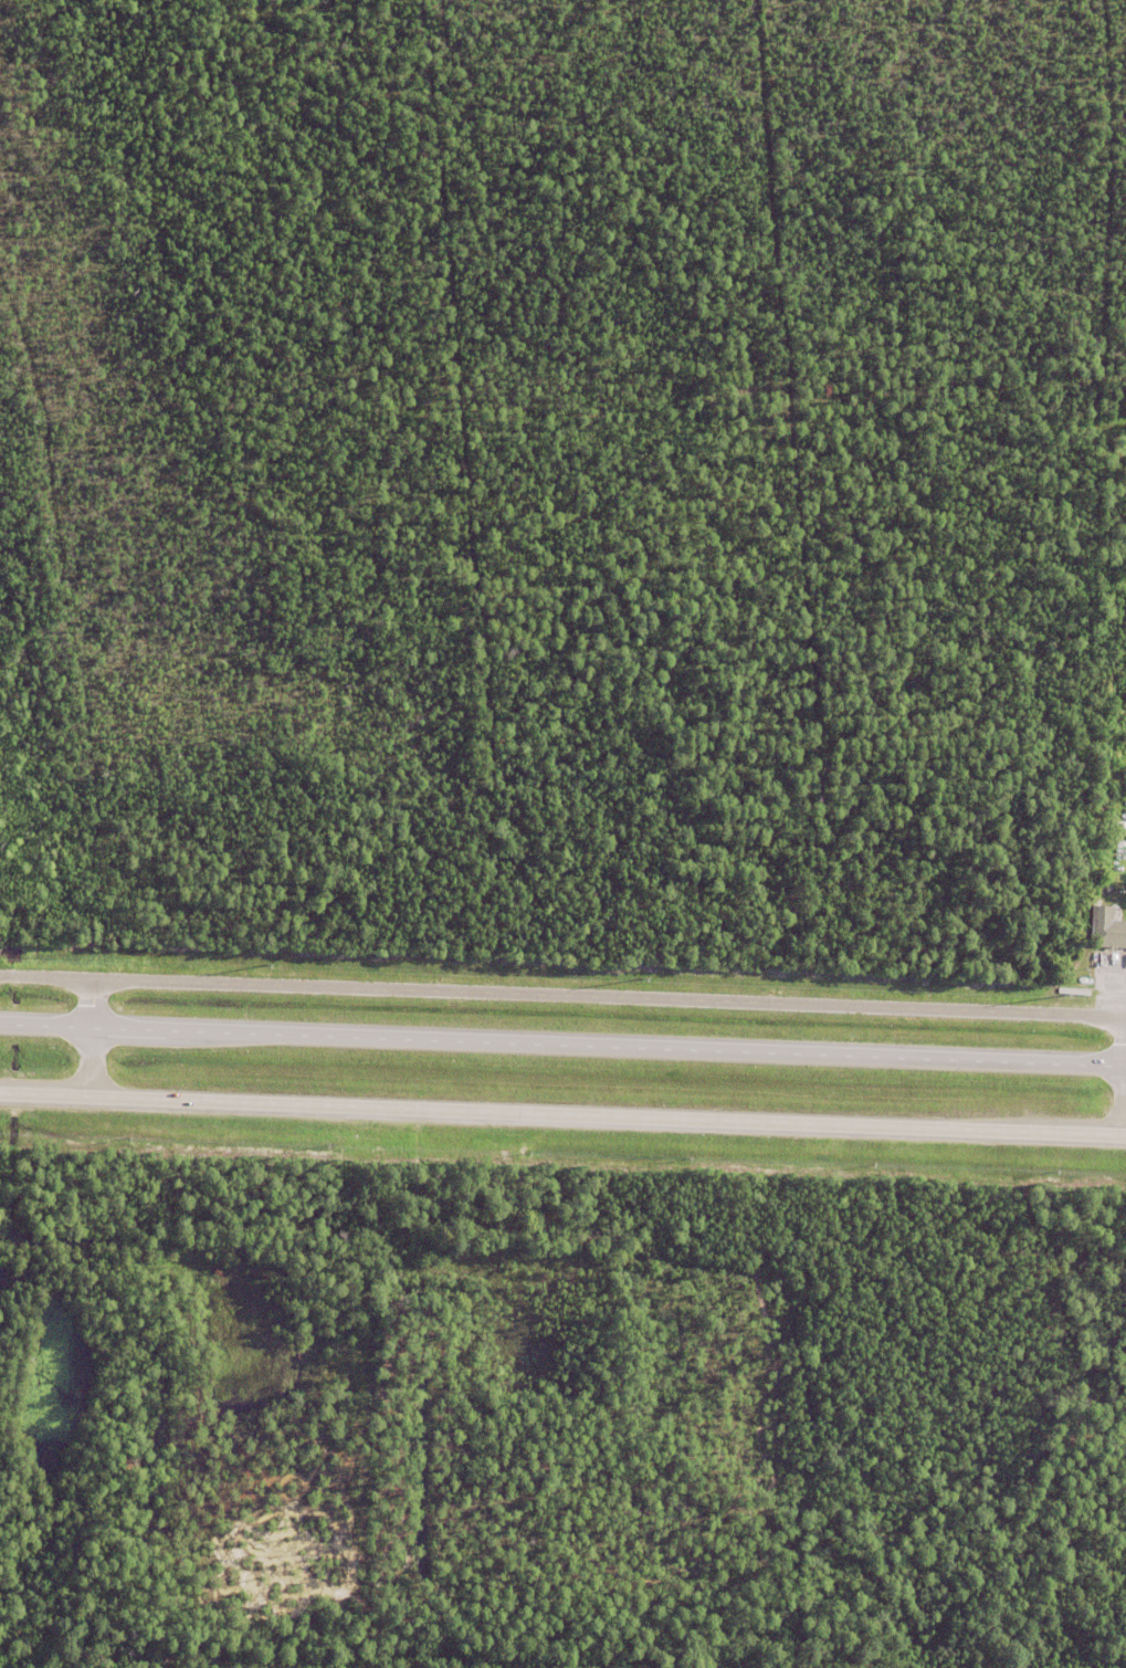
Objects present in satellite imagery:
building: (1116, 846)
building: (1106, 931)
road: (562, 996)
road: (92, 1039)
road: (562, 1043)
road: (562, 1118)

